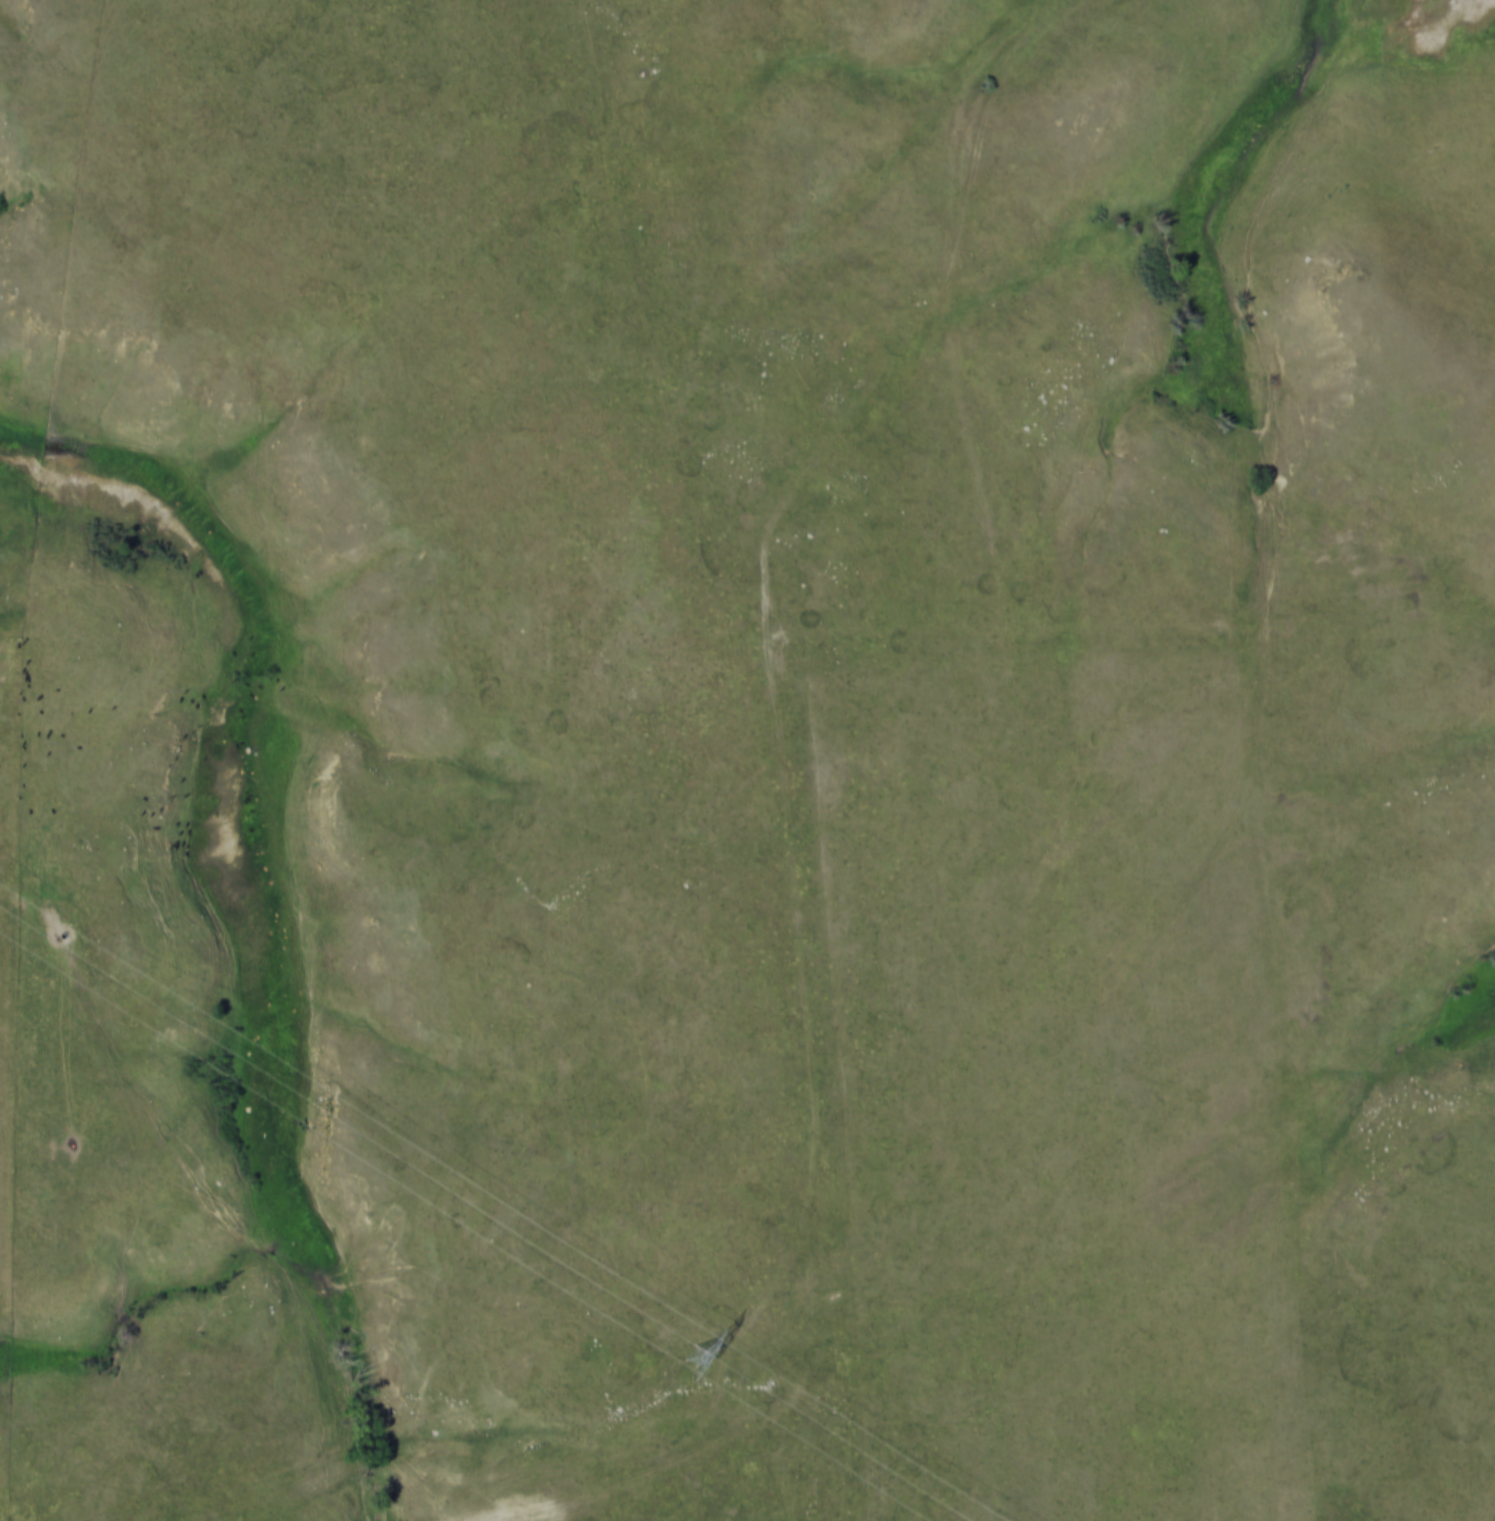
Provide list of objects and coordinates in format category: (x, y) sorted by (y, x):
road: (786, 802)
power tower: (696, 1358)

